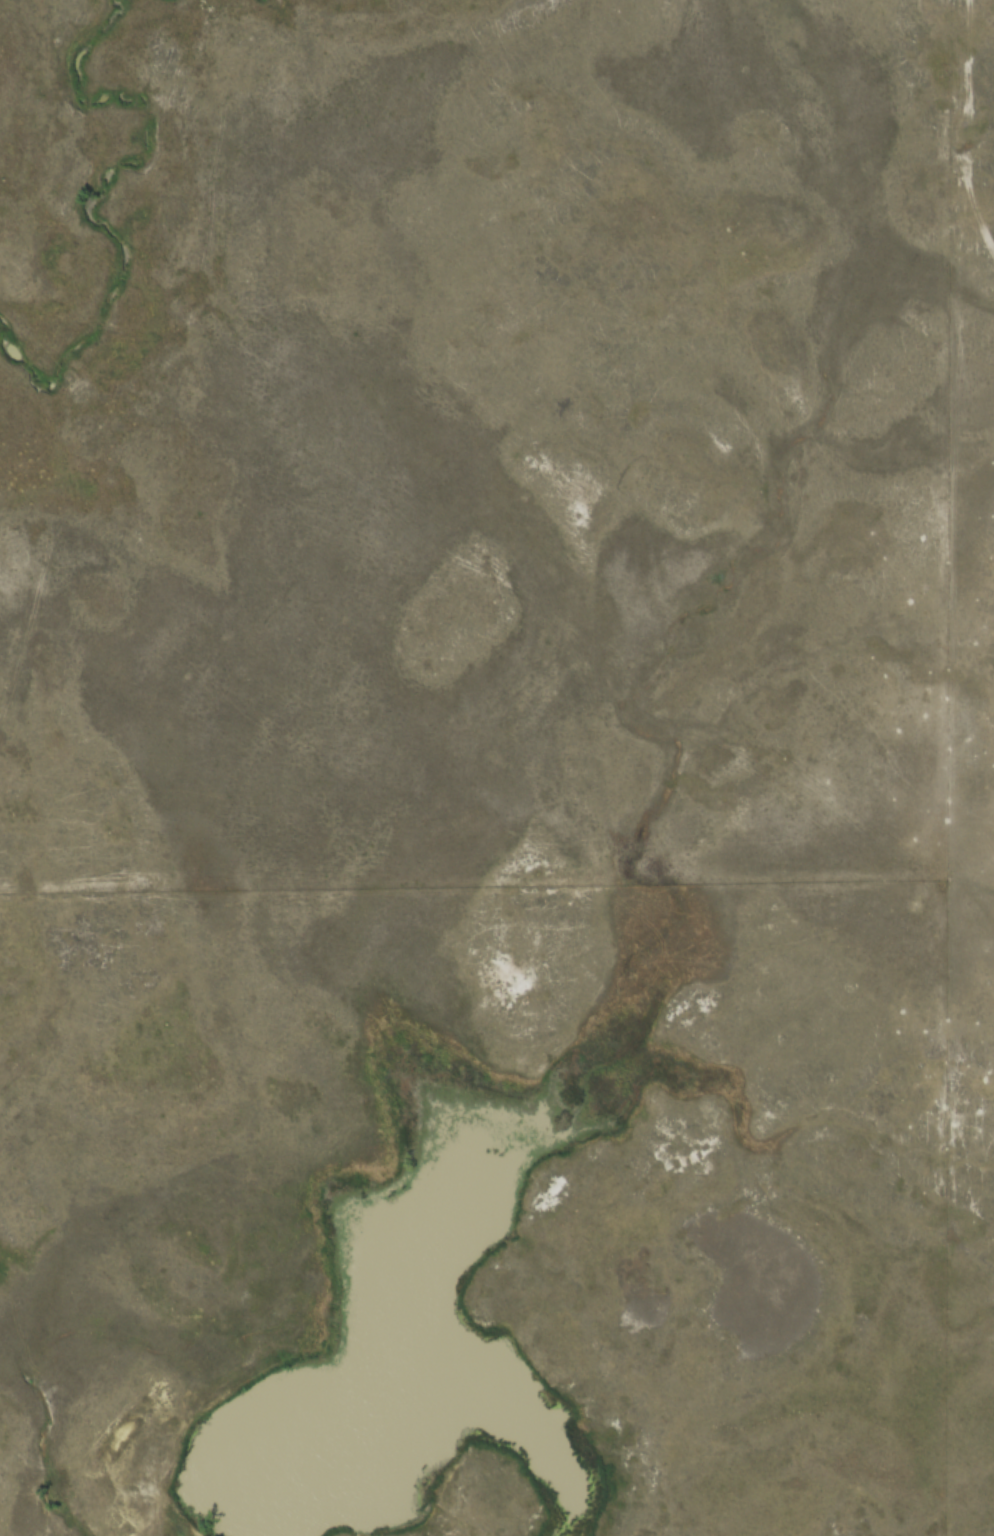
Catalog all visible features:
road: (989, 49)

